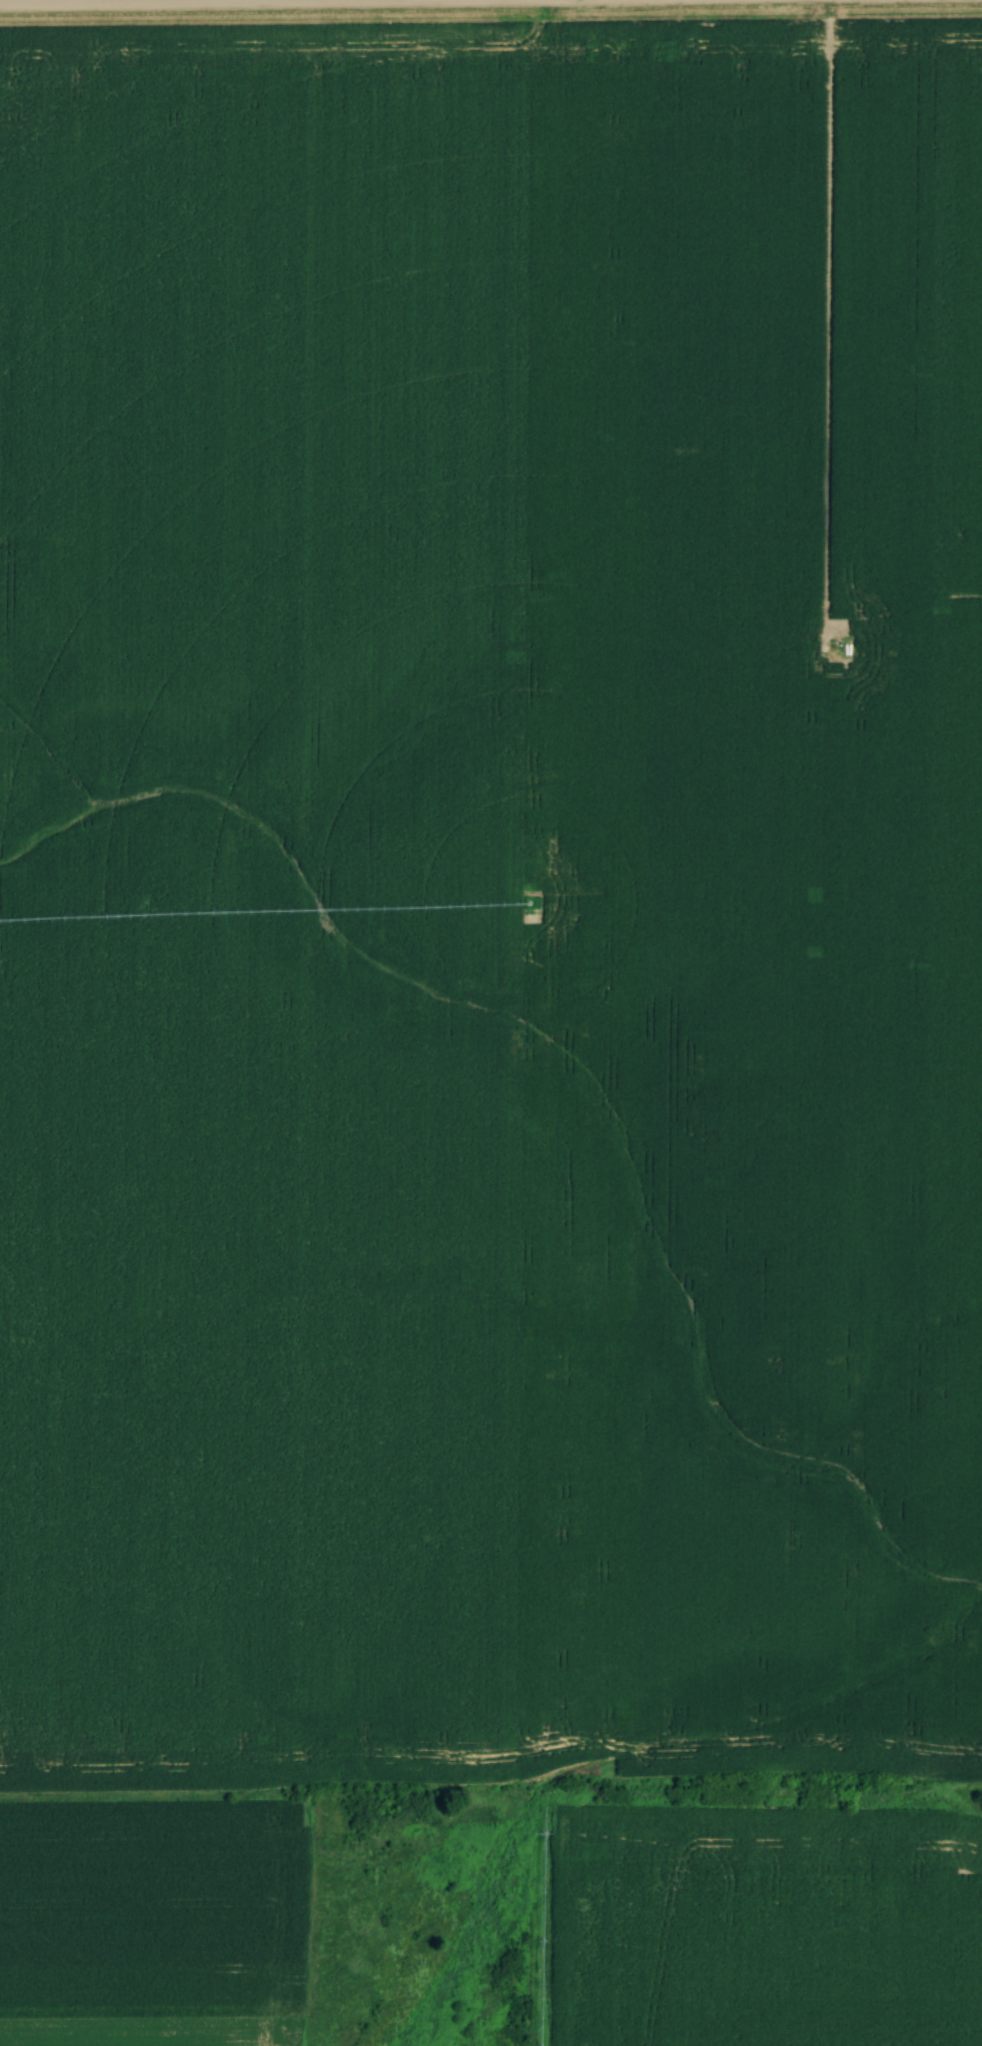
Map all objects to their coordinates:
road: (388, 3)

